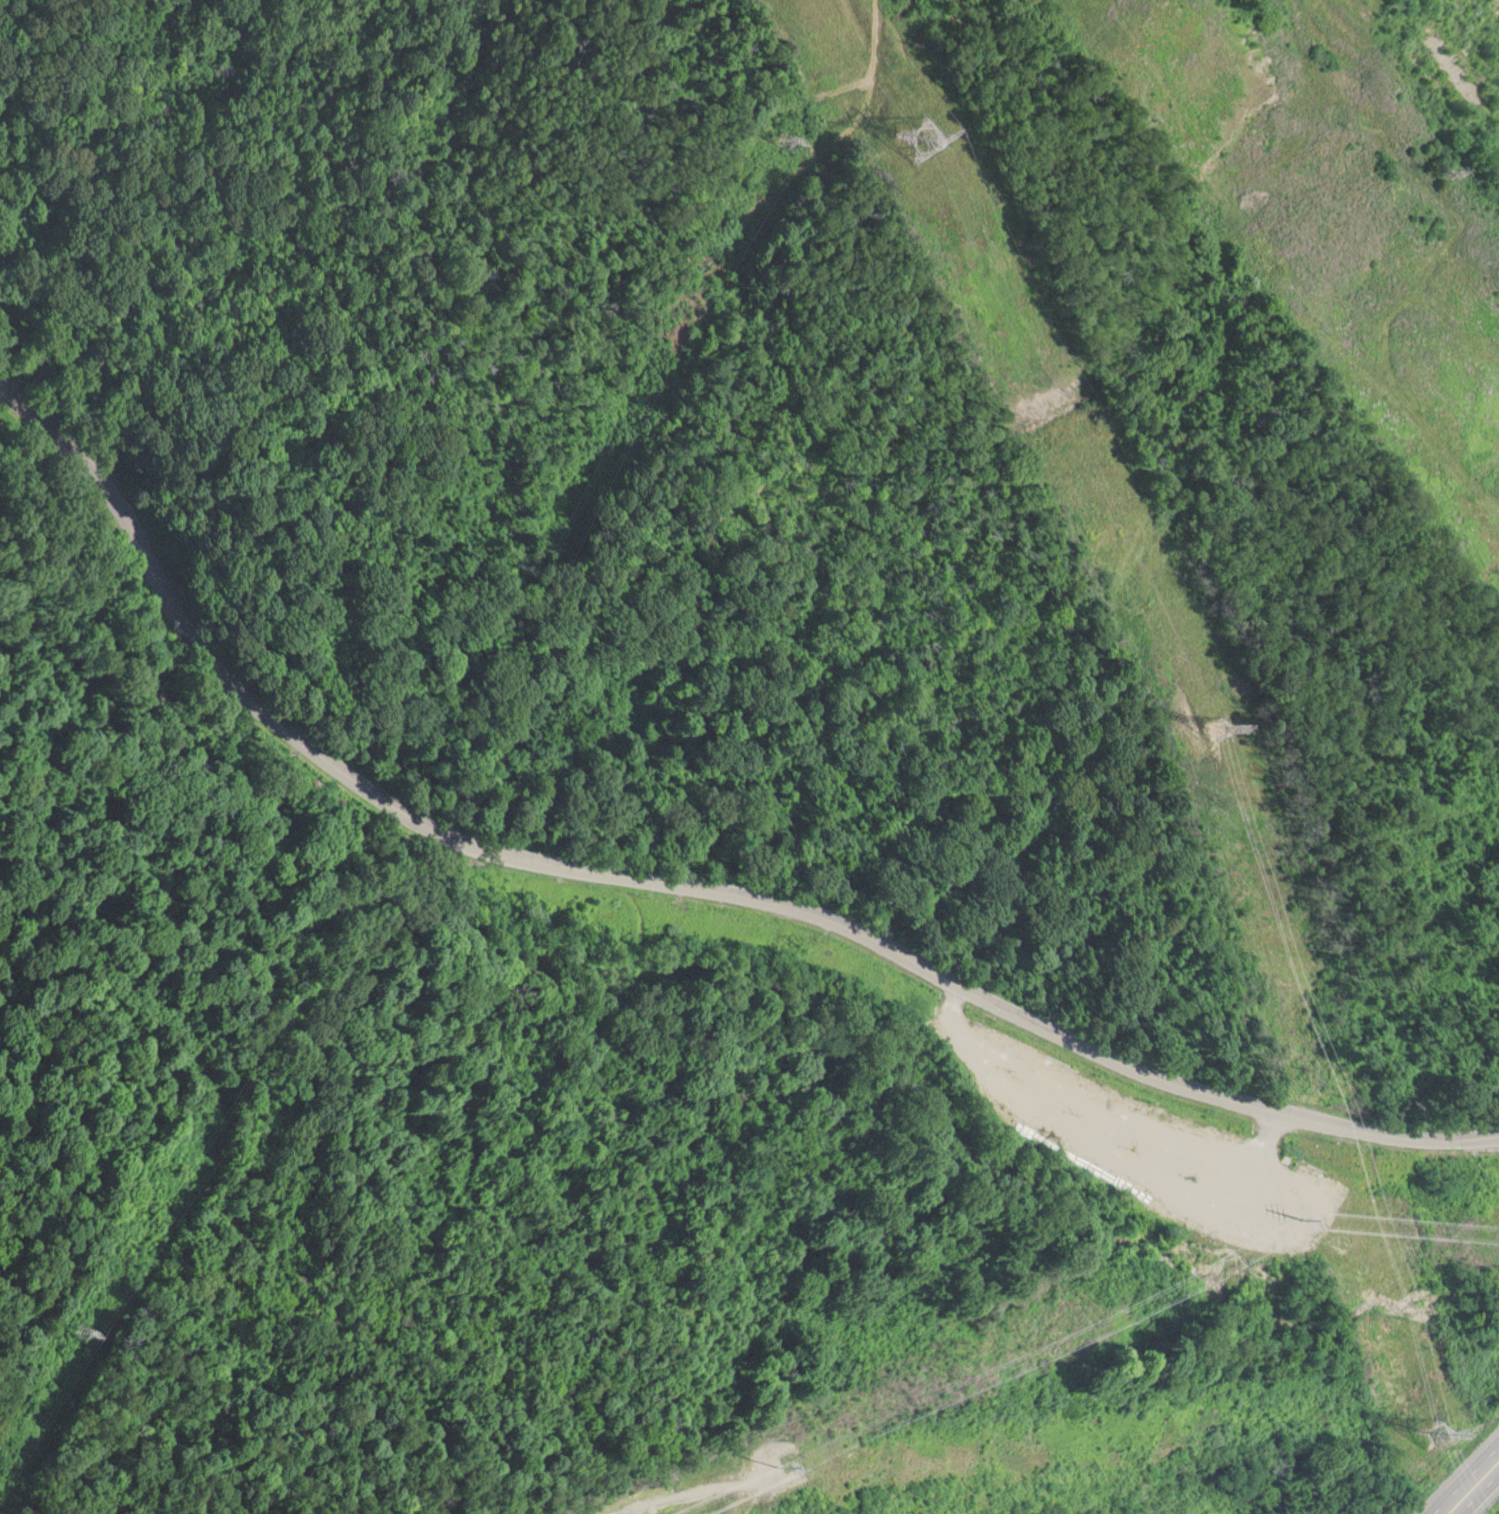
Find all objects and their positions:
power tower: (913, 120)
power tower: (1439, 177)
power tower: (1051, 380)
power tower: (1215, 728)
road: (665, 884)
power tower: (1373, 1401)
power tower: (1422, 1434)
power tower: (800, 1458)
road: (1466, 1480)
road: (1477, 1492)

